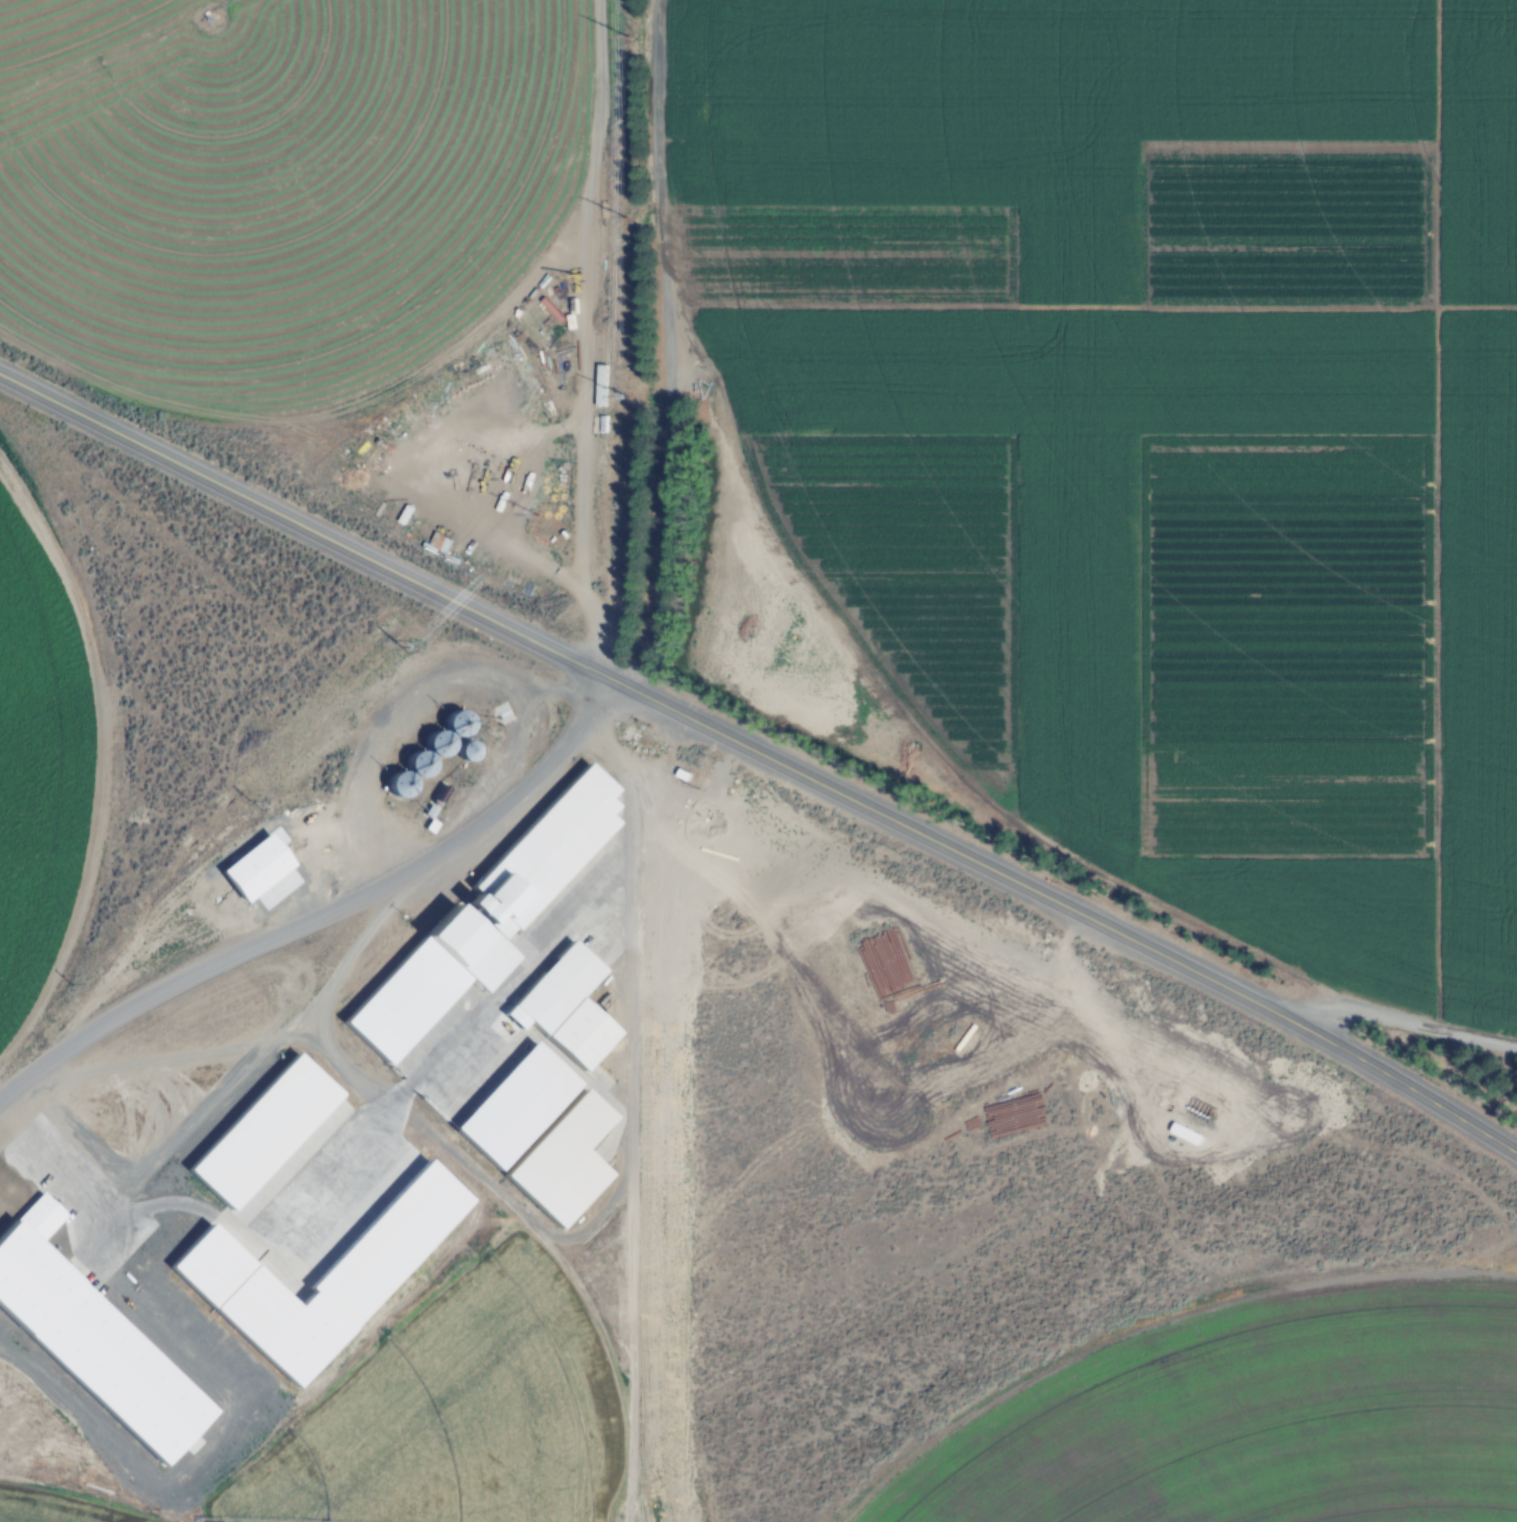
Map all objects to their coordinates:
crop: (63, 25)
road: (612, 339)
crop: (1169, 417)
building: (428, 753)
road: (761, 761)
building: (539, 856)
road: (325, 920)
building: (562, 983)
building: (385, 1032)
building: (309, 1089)
building: (544, 1125)
building: (319, 1256)

